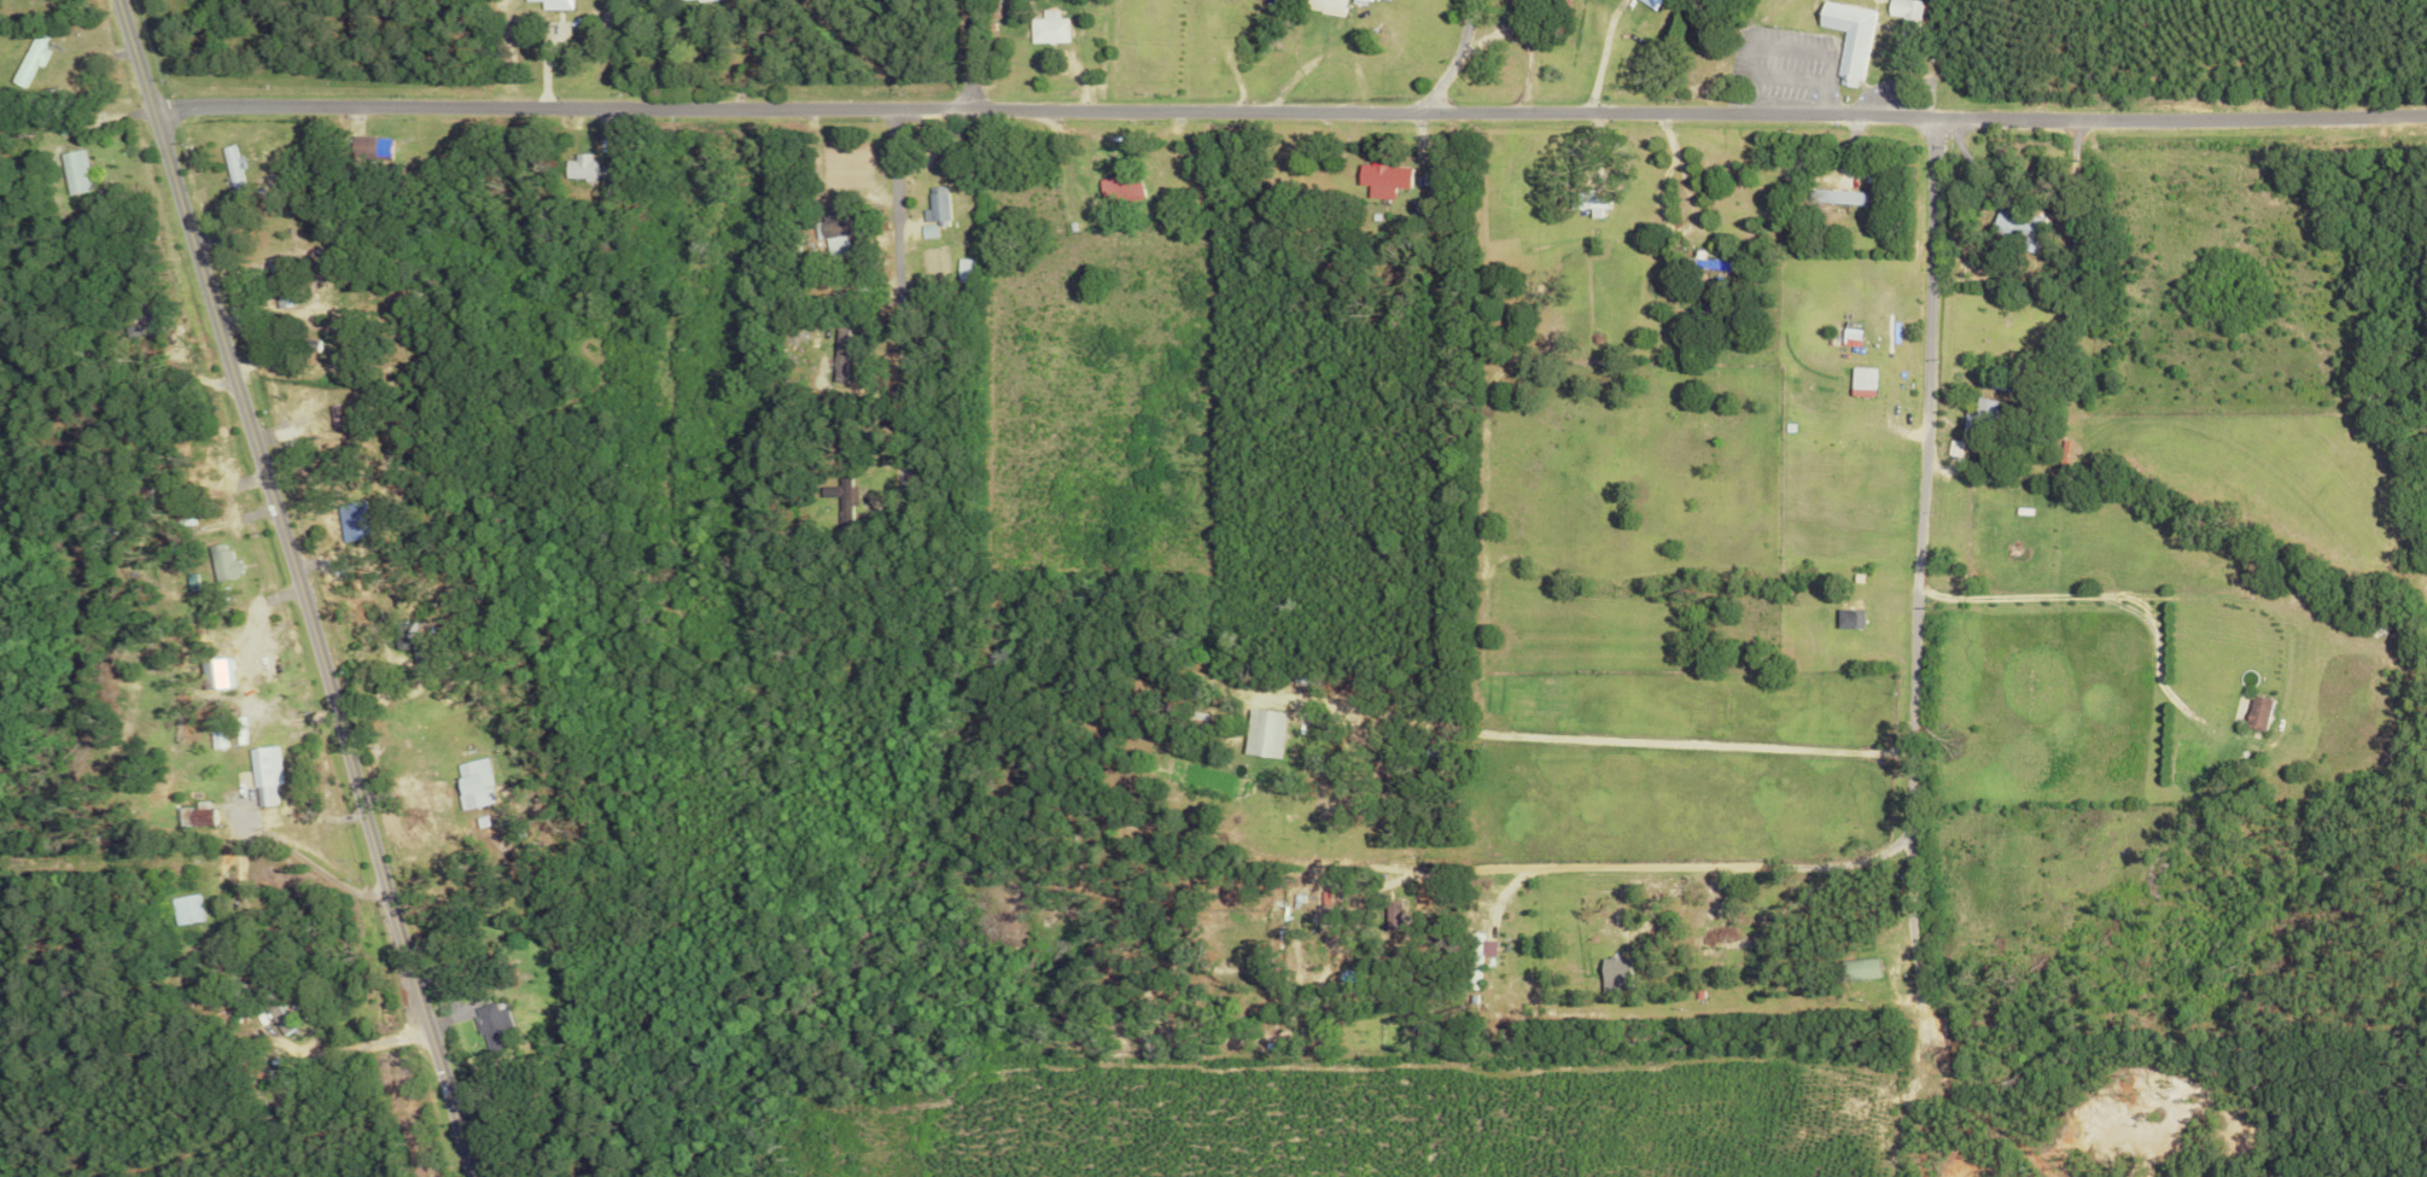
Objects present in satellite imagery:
building: (525, 0)
building: (1650, 2)
building: (554, 4)
building: (1323, 6)
building: (1902, 8)
building: (1046, 28)
building: (1846, 37)
road: (1597, 56)
building: (28, 58)
road: (1447, 59)
road: (976, 60)
road: (1294, 113)
building: (229, 165)
building: (578, 167)
building: (74, 171)
building: (1382, 179)
building: (1119, 188)
building: (1587, 203)
building: (2013, 227)
building: (1707, 263)
building: (835, 355)
road: (899, 357)
building: (1860, 381)
building: (1949, 447)
building: (841, 491)
building: (344, 520)
road: (1907, 541)
building: (218, 561)
road: (302, 588)
building: (1845, 618)
building: (253, 669)
building: (2256, 712)
building: (1262, 733)
road: (1626, 740)
building: (258, 774)
building: (474, 780)
building: (193, 815)
road: (1715, 863)
building: (186, 909)
building: (1615, 967)
building: (1856, 968)
building: (1612, 983)
building: (273, 1018)
building: (490, 1024)
road: (288, 1043)

